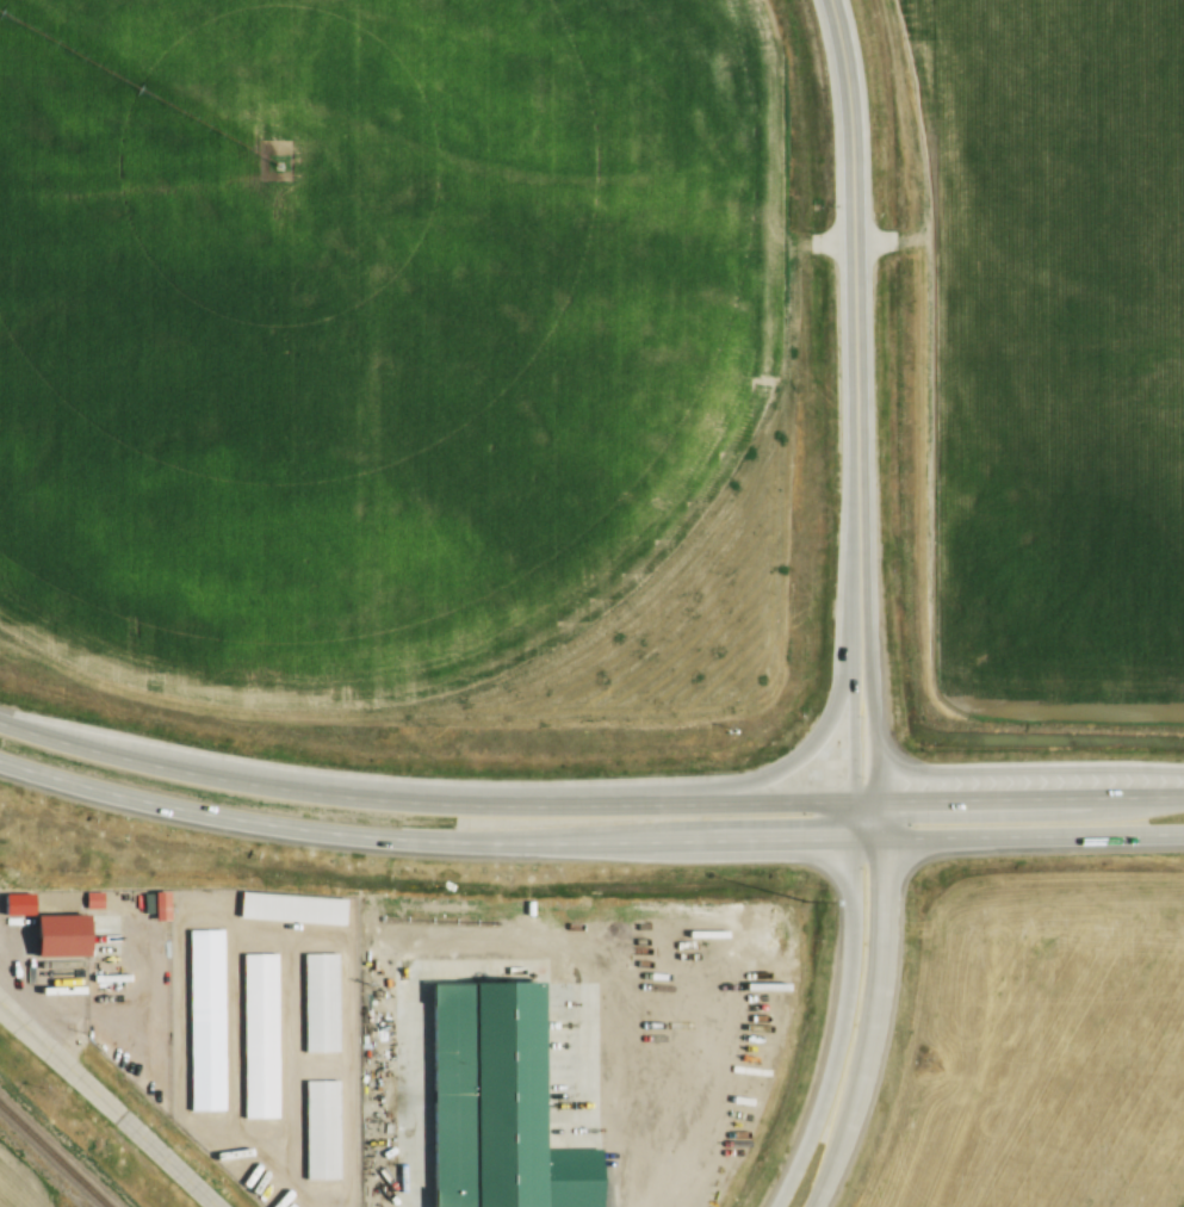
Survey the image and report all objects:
road: (854, 284)
road: (850, 704)
road: (872, 704)
road: (792, 762)
road: (1030, 798)
road: (434, 803)
road: (1017, 835)
road: (421, 838)
street lamp: (804, 896)
building: (191, 902)
building: (297, 915)
building: (68, 946)
building: (324, 1009)
building: (210, 1025)
road: (835, 1027)
road: (875, 1027)
building: (264, 1042)
building: (497, 1100)
road: (107, 1104)
building: (328, 1138)
railway: (55, 1155)

